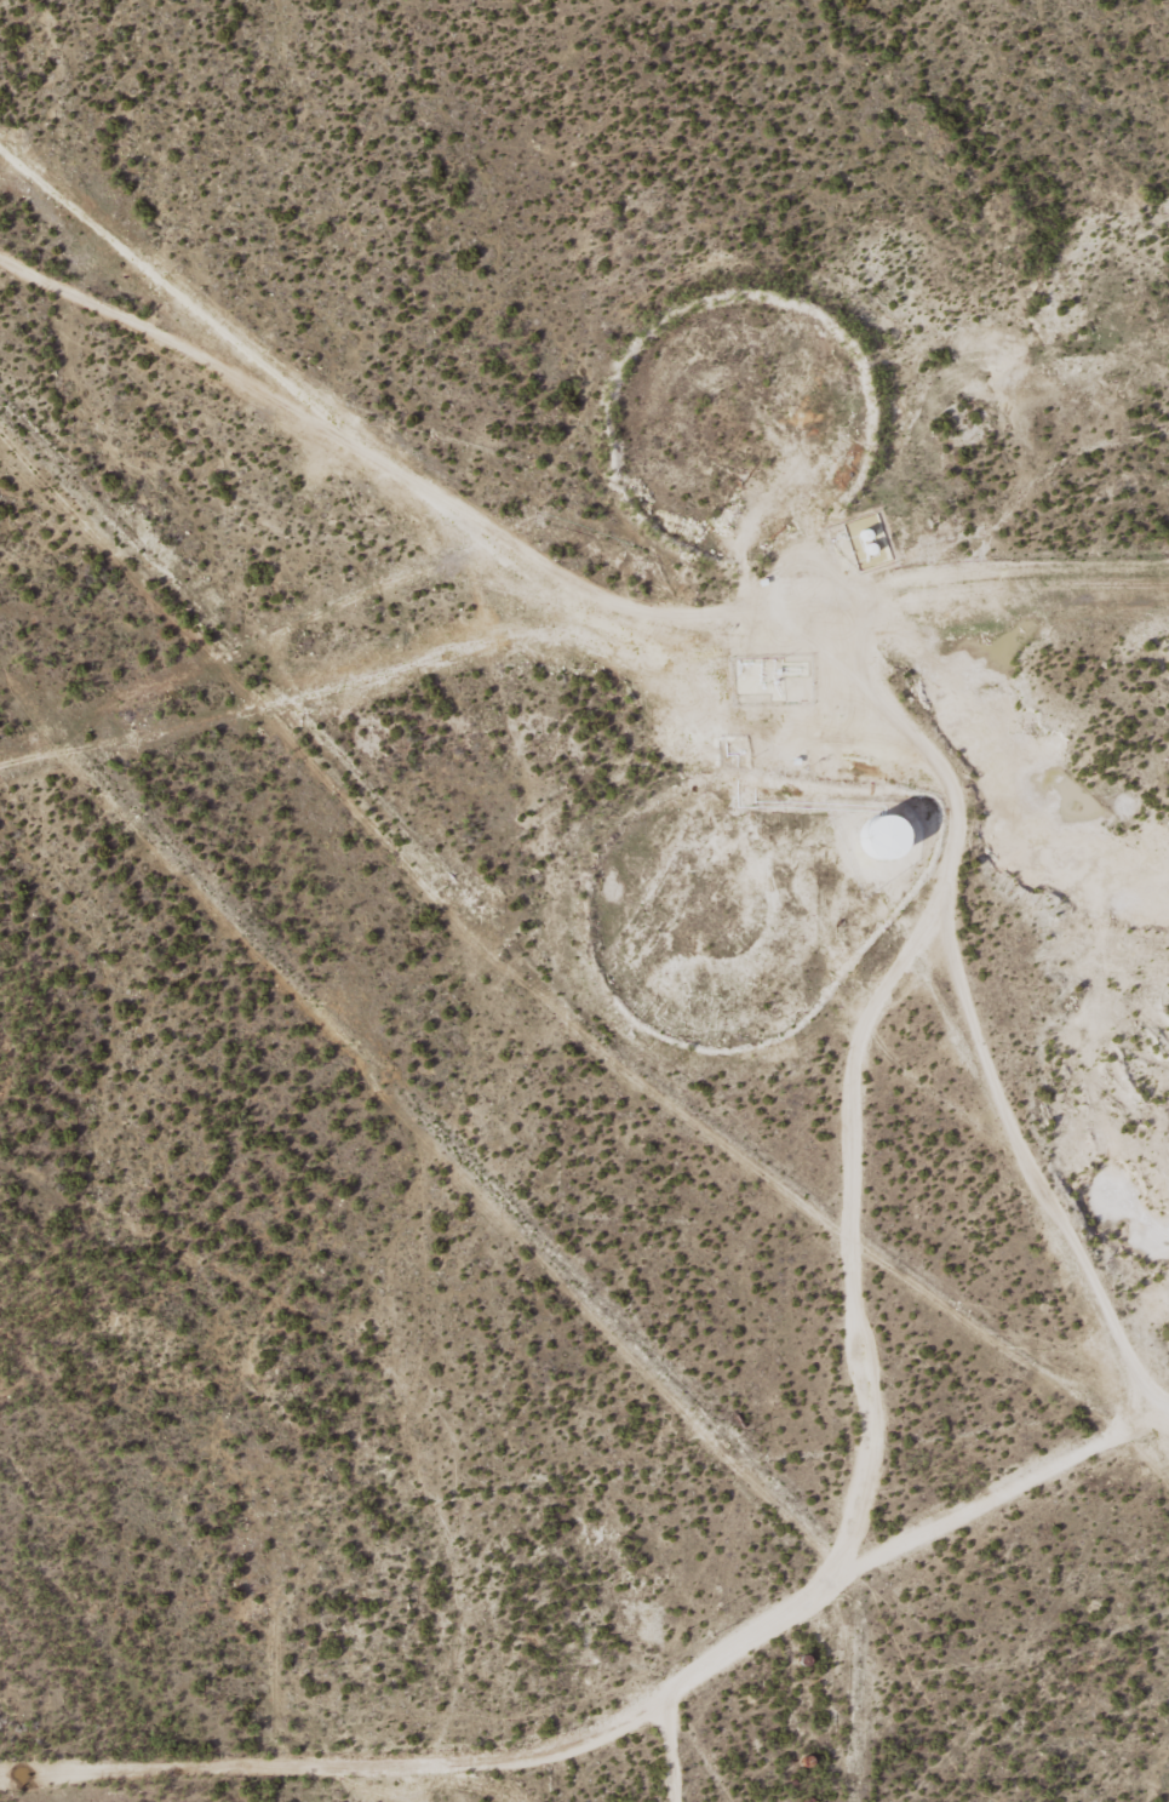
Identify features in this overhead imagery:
building: (869, 539)
road: (1021, 584)
building: (892, 833)
road: (1002, 959)
road: (618, 1720)

